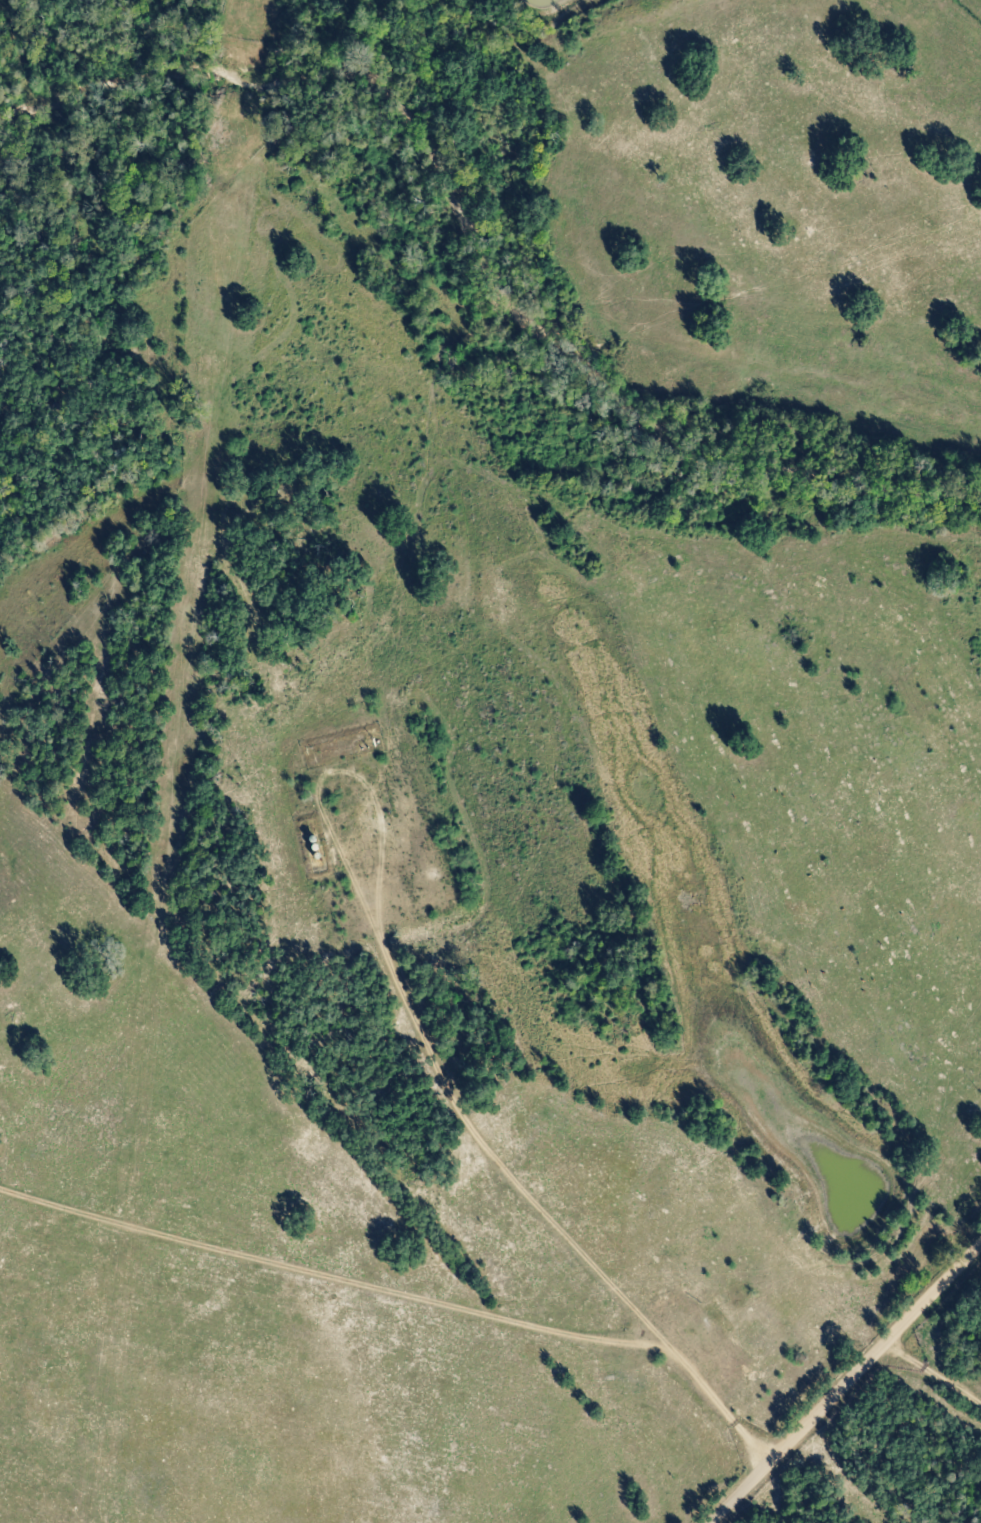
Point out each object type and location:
road: (924, 1301)
road: (787, 1441)

